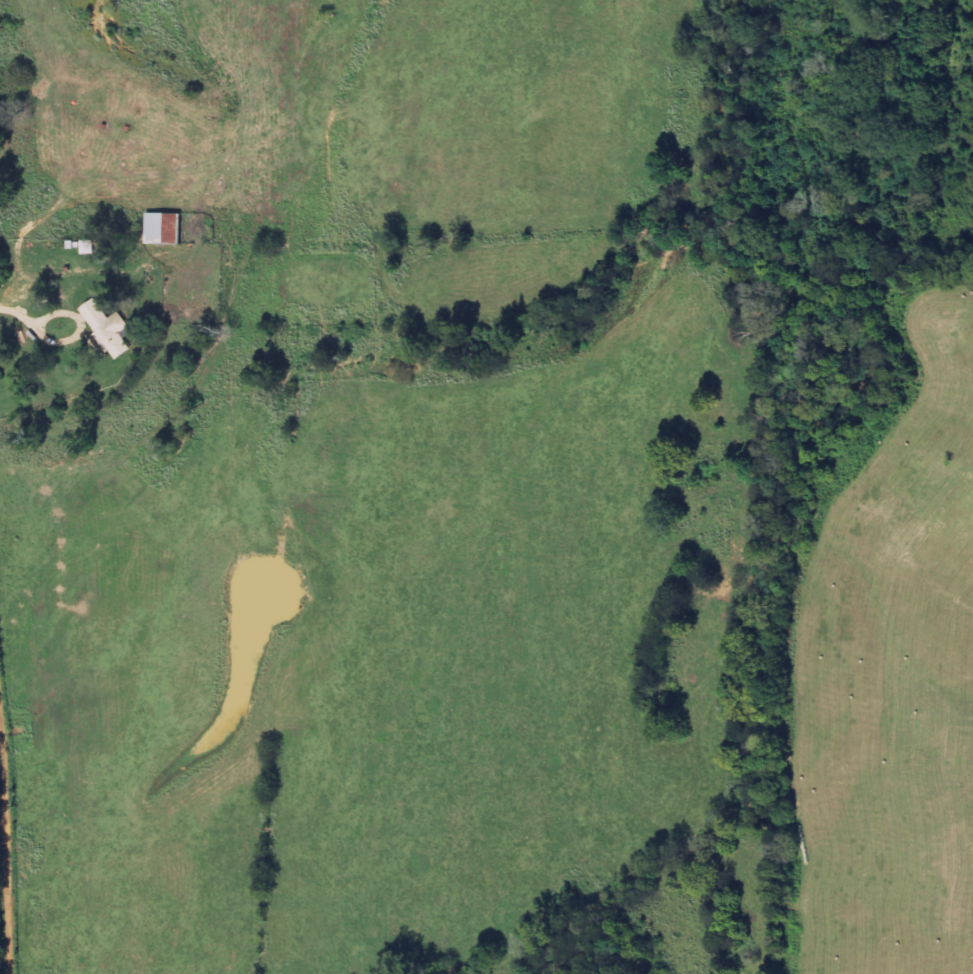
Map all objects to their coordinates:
building: (163, 229)
building: (108, 329)

